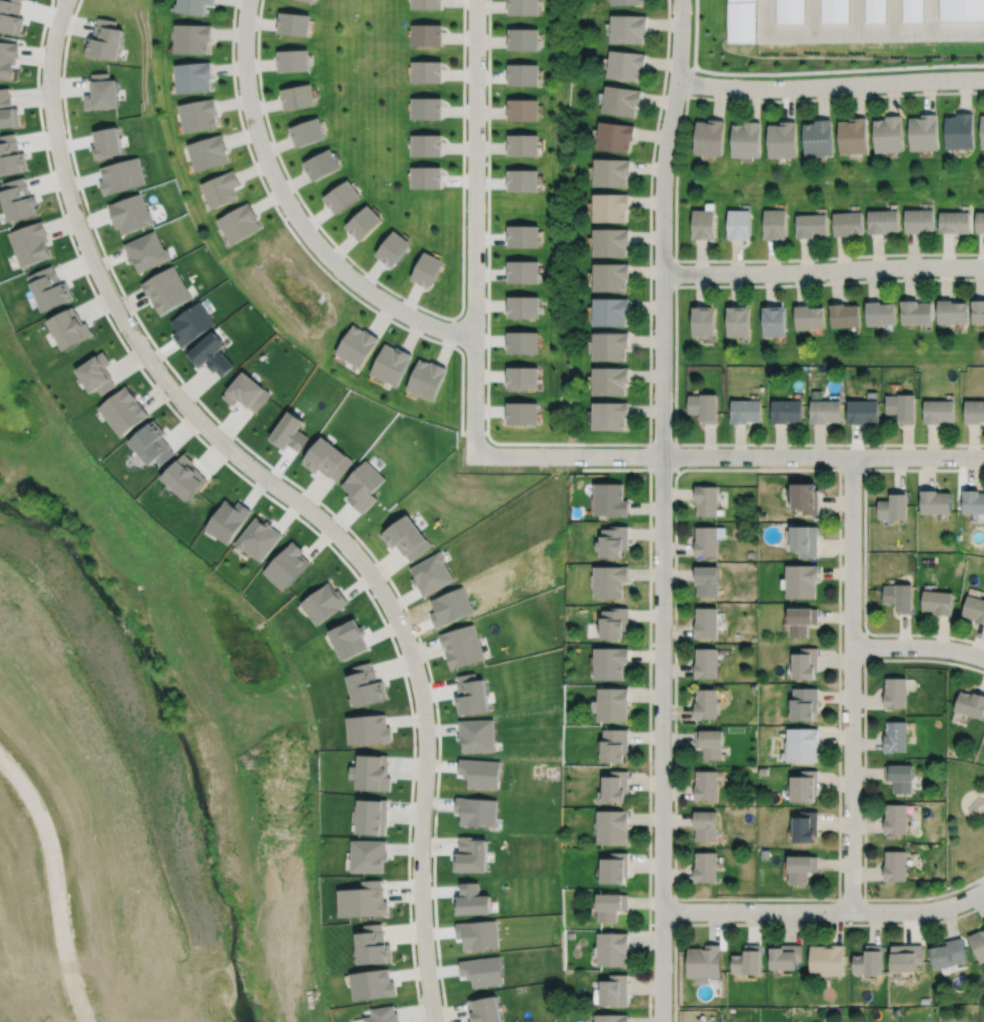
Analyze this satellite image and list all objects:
building: (308, 1)
building: (626, 2)
building: (428, 4)
building: (194, 6)
building: (524, 7)
building: (961, 10)
building: (835, 11)
building: (876, 11)
building: (912, 11)
building: (790, 12)
road: (929, 16)
building: (743, 22)
building: (294, 24)
building: (628, 29)
road: (695, 31)
road: (957, 32)
road: (830, 34)
building: (428, 35)
building: (192, 38)
building: (524, 39)
building: (105, 40)
building: (7, 58)
building: (293, 61)
building: (626, 65)
building: (427, 72)
building: (523, 74)
building: (194, 76)
road: (830, 85)
building: (101, 92)
road: (965, 93)
road: (929, 95)
road: (893, 96)
building: (297, 97)
road: (858, 98)
road: (822, 99)
road: (719, 100)
building: (621, 101)
road: (754, 102)
road: (789, 102)
building: (7, 109)
building: (427, 109)
building: (524, 110)
building: (199, 115)
building: (982, 131)
building: (307, 132)
building: (925, 132)
building: (960, 132)
building: (889, 134)
building: (615, 136)
building: (854, 136)
building: (710, 138)
building: (819, 139)
building: (747, 140)
building: (783, 141)
building: (523, 145)
building: (427, 146)
building: (208, 152)
building: (11, 155)
building: (322, 165)
building: (611, 172)
building: (427, 178)
building: (522, 180)
park: (842, 180)
road: (675, 184)
building: (221, 189)
building: (342, 197)
building: (17, 198)
building: (610, 207)
building: (130, 213)
road: (295, 213)
building: (883, 221)
building: (919, 221)
building: (955, 222)
building: (980, 222)
building: (240, 223)
building: (364, 223)
building: (848, 223)
building: (739, 224)
building: (775, 224)
building: (704, 225)
building: (811, 225)
road: (475, 227)
building: (522, 235)
building: (610, 242)
building: (30, 243)
building: (393, 249)
building: (146, 251)
road: (948, 252)
road: (913, 253)
road: (983, 253)
road: (878, 254)
road: (843, 255)
road: (805, 258)
road: (701, 259)
road: (736, 259)
road: (773, 259)
building: (427, 270)
road: (823, 270)
building: (523, 271)
road: (675, 274)
building: (610, 277)
road: (980, 279)
road: (872, 280)
road: (909, 280)
road: (945, 280)
road: (835, 281)
road: (831, 283)
road: (801, 285)
road: (770, 286)
road: (735, 287)
building: (49, 288)
road: (701, 288)
building: (166, 290)
building: (522, 306)
building: (610, 312)
building: (952, 312)
building: (978, 312)
building: (880, 313)
building: (916, 313)
building: (844, 315)
building: (808, 317)
building: (774, 321)
building: (704, 322)
building: (738, 322)
building: (191, 323)
building: (69, 328)
building: (522, 342)
building: (358, 346)
building: (610, 346)
building: (210, 354)
building: (391, 364)
building: (96, 373)
building: (522, 377)
building: (427, 379)
building: (610, 381)
building: (246, 392)
building: (704, 407)
building: (902, 408)
building: (123, 410)
building: (746, 411)
building: (826, 411)
building: (863, 411)
building: (522, 412)
building: (787, 412)
building: (939, 412)
building: (974, 412)
building: (610, 415)
road: (710, 442)
road: (856, 442)
road: (571, 443)
road: (740, 443)
road: (820, 443)
road: (907, 443)
building: (152, 444)
road: (781, 444)
road: (932, 444)
road: (973, 444)
road: (662, 445)
road: (750, 445)
road: (568, 456)
road: (822, 457)
building: (327, 459)
building: (184, 477)
road: (287, 493)
building: (805, 498)
building: (610, 499)
building: (706, 500)
building: (973, 501)
building: (935, 502)
building: (894, 505)
road: (662, 510)
building: (227, 519)
building: (407, 537)
building: (258, 538)
building: (805, 541)
building: (614, 542)
building: (706, 542)
building: (287, 565)
building: (610, 581)
building: (706, 581)
building: (802, 581)
building: (899, 597)
building: (937, 602)
building: (324, 603)
building: (974, 608)
building: (801, 620)
building: (615, 623)
building: (707, 623)
building: (349, 638)
building: (462, 646)
road: (918, 647)
building: (610, 662)
building: (706, 663)
building: (806, 663)
road: (851, 683)
building: (365, 684)
building: (895, 693)
building: (611, 704)
building: (706, 704)
building: (804, 704)
building: (970, 704)
building: (368, 729)
building: (895, 736)
building: (709, 743)
building: (802, 744)
building: (615, 745)
building: (371, 772)
building: (899, 777)
building: (706, 785)
building: (616, 786)
building: (805, 787)
building: (372, 816)
building: (895, 819)
park: (964, 825)
building: (705, 826)
building: (805, 826)
building: (613, 827)
building: (471, 854)
building: (368, 855)
building: (896, 866)
building: (706, 867)
building: (802, 868)
building: (615, 869)
road: (53, 887)
road: (926, 898)
building: (363, 900)
building: (611, 906)
road: (824, 911)
building: (978, 944)
building: (373, 945)
building: (612, 949)
building: (949, 953)
building: (786, 957)
building: (905, 957)
building: (747, 960)
building: (827, 960)
building: (869, 960)
building: (704, 962)
building: (372, 984)
building: (613, 991)
building: (484, 1009)
building: (383, 1014)
building: (611, 1018)

